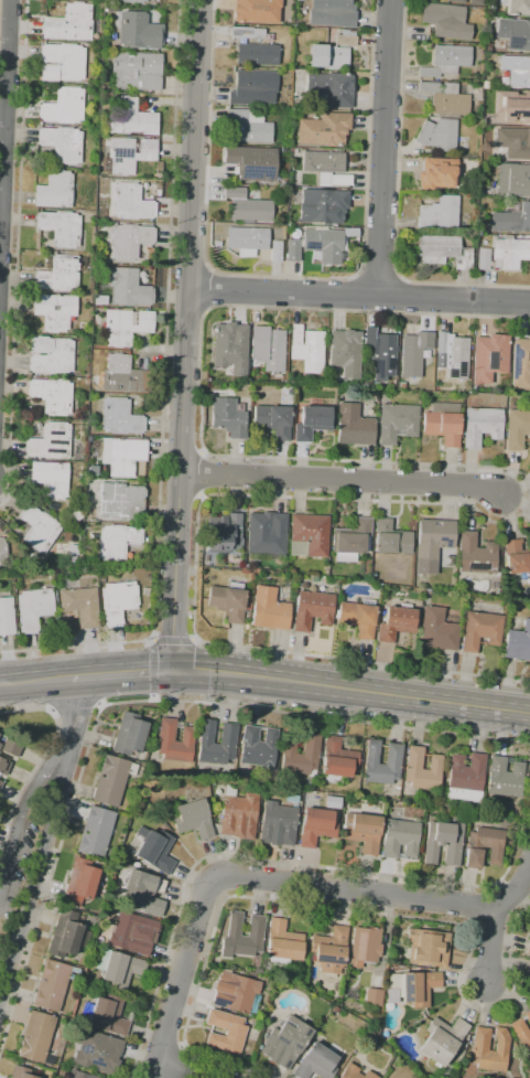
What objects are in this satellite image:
building: (132, 1)
building: (456, 1)
building: (474, 2)
building: (518, 8)
building: (255, 11)
building: (331, 13)
building: (444, 21)
building: (67, 24)
building: (138, 31)
building: (245, 33)
building: (513, 33)
building: (332, 52)
building: (256, 54)
building: (444, 61)
building: (61, 63)
building: (136, 70)
building: (519, 76)
building: (329, 88)
building: (252, 89)
building: (444, 99)
road: (3, 102)
building: (511, 103)
building: (63, 106)
building: (131, 118)
road: (21, 124)
building: (246, 127)
building: (323, 129)
road: (208, 136)
road: (400, 136)
building: (441, 137)
building: (529, 137)
building: (61, 143)
road: (176, 145)
building: (515, 145)
road: (381, 149)
building: (129, 153)
building: (250, 162)
building: (325, 168)
building: (445, 174)
building: (512, 180)
building: (54, 191)
building: (130, 202)
building: (246, 206)
building: (322, 207)
road: (364, 212)
building: (439, 213)
building: (512, 221)
building: (60, 228)
building: (128, 241)
building: (245, 241)
building: (323, 244)
building: (291, 250)
building: (442, 250)
building: (275, 252)
building: (509, 252)
building: (482, 258)
road: (378, 269)
road: (190, 270)
building: (57, 276)
road: (459, 285)
building: (127, 288)
road: (207, 290)
road: (361, 290)
road: (397, 291)
road: (358, 298)
road: (187, 310)
building: (53, 311)
road: (289, 312)
building: (125, 325)
road: (184, 334)
building: (478, 344)
building: (441, 346)
building: (229, 348)
building: (267, 348)
building: (306, 350)
building: (379, 352)
building: (344, 353)
building: (413, 353)
building: (48, 355)
building: (456, 359)
building: (495, 360)
building: (520, 363)
building: (123, 375)
building: (216, 376)
road: (166, 381)
building: (51, 395)
building: (119, 417)
building: (226, 417)
building: (272, 420)
building: (311, 420)
building: (396, 423)
building: (441, 424)
building: (353, 426)
building: (482, 426)
building: (517, 428)
building: (50, 441)
building: (123, 457)
building: (48, 479)
road: (340, 482)
road: (464, 498)
building: (120, 502)
building: (37, 529)
building: (223, 532)
building: (310, 533)
building: (267, 536)
building: (390, 537)
building: (433, 538)
building: (117, 541)
building: (349, 542)
building: (2, 548)
building: (475, 555)
road: (160, 557)
building: (516, 558)
building: (424, 574)
building: (117, 601)
building: (227, 601)
building: (79, 606)
building: (32, 608)
building: (268, 610)
building: (312, 610)
building: (6, 616)
building: (357, 619)
building: (396, 623)
building: (437, 630)
building: (480, 630)
road: (173, 640)
building: (518, 643)
road: (76, 648)
road: (361, 662)
road: (153, 670)
traffic signals: (173, 671)
road: (121, 673)
road: (35, 681)
road: (351, 689)
road: (137, 701)
road: (74, 717)
building: (129, 734)
building: (165, 734)
building: (228, 734)
building: (258, 747)
building: (11, 748)
building: (392, 754)
building: (301, 755)
road: (41, 757)
building: (337, 760)
building: (3, 767)
building: (422, 769)
building: (466, 775)
building: (505, 777)
building: (0, 780)
building: (111, 780)
building: (0, 783)
building: (461, 794)
building: (238, 814)
building: (193, 819)
road: (21, 820)
building: (277, 824)
building: (315, 826)
building: (363, 831)
building: (95, 832)
building: (401, 839)
building: (433, 844)
building: (484, 846)
building: (154, 848)
road: (280, 862)
road: (33, 875)
road: (278, 877)
building: (80, 882)
road: (515, 889)
building: (143, 892)
road: (478, 907)
road: (344, 910)
building: (132, 932)
building: (66, 935)
building: (242, 936)
building: (529, 937)
building: (282, 942)
building: (365, 946)
building: (428, 947)
building: (528, 949)
building: (331, 950)
road: (491, 951)
building: (117, 968)
building: (258, 971)
building: (529, 972)
building: (74, 974)
building: (51, 985)
building: (412, 988)
building: (236, 992)
building: (372, 996)
building: (108, 1015)
building: (226, 1032)
building: (522, 1033)
building: (36, 1037)
building: (442, 1039)
road: (163, 1040)
building: (284, 1043)
building: (479, 1044)
building: (97, 1052)
road: (179, 1061)
building: (315, 1063)
road: (182, 1069)
building: (21, 1072)
building: (355, 1072)
building: (78, 1075)
road: (137, 1076)

